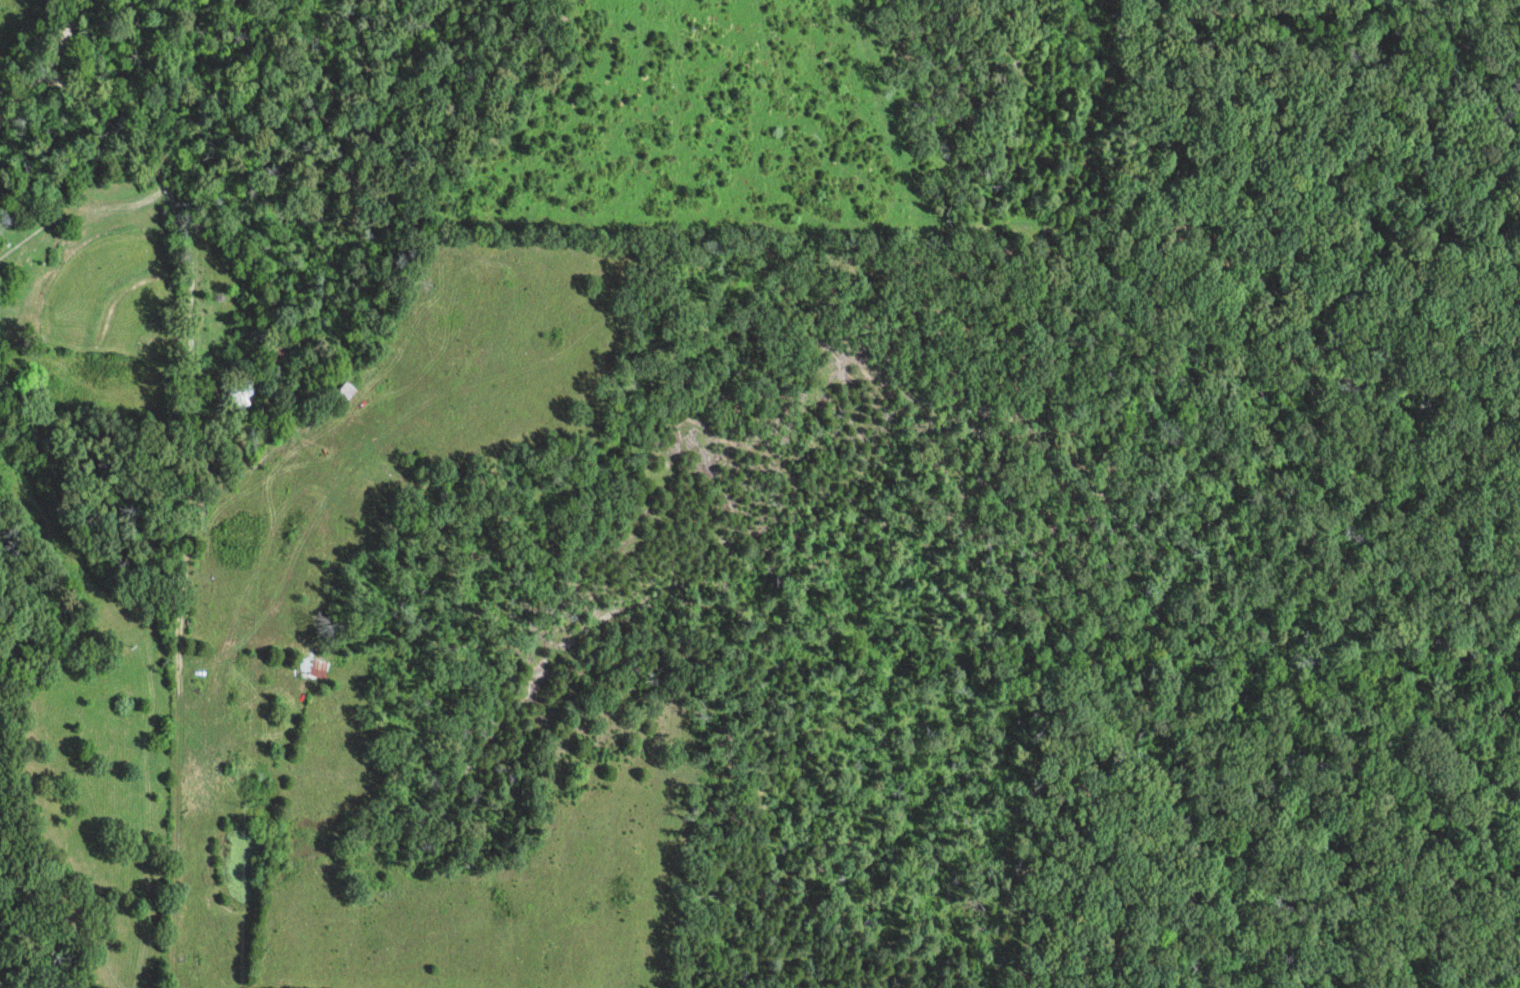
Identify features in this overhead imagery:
road: (46, 61)
building: (343, 395)
building: (241, 397)
building: (304, 669)

